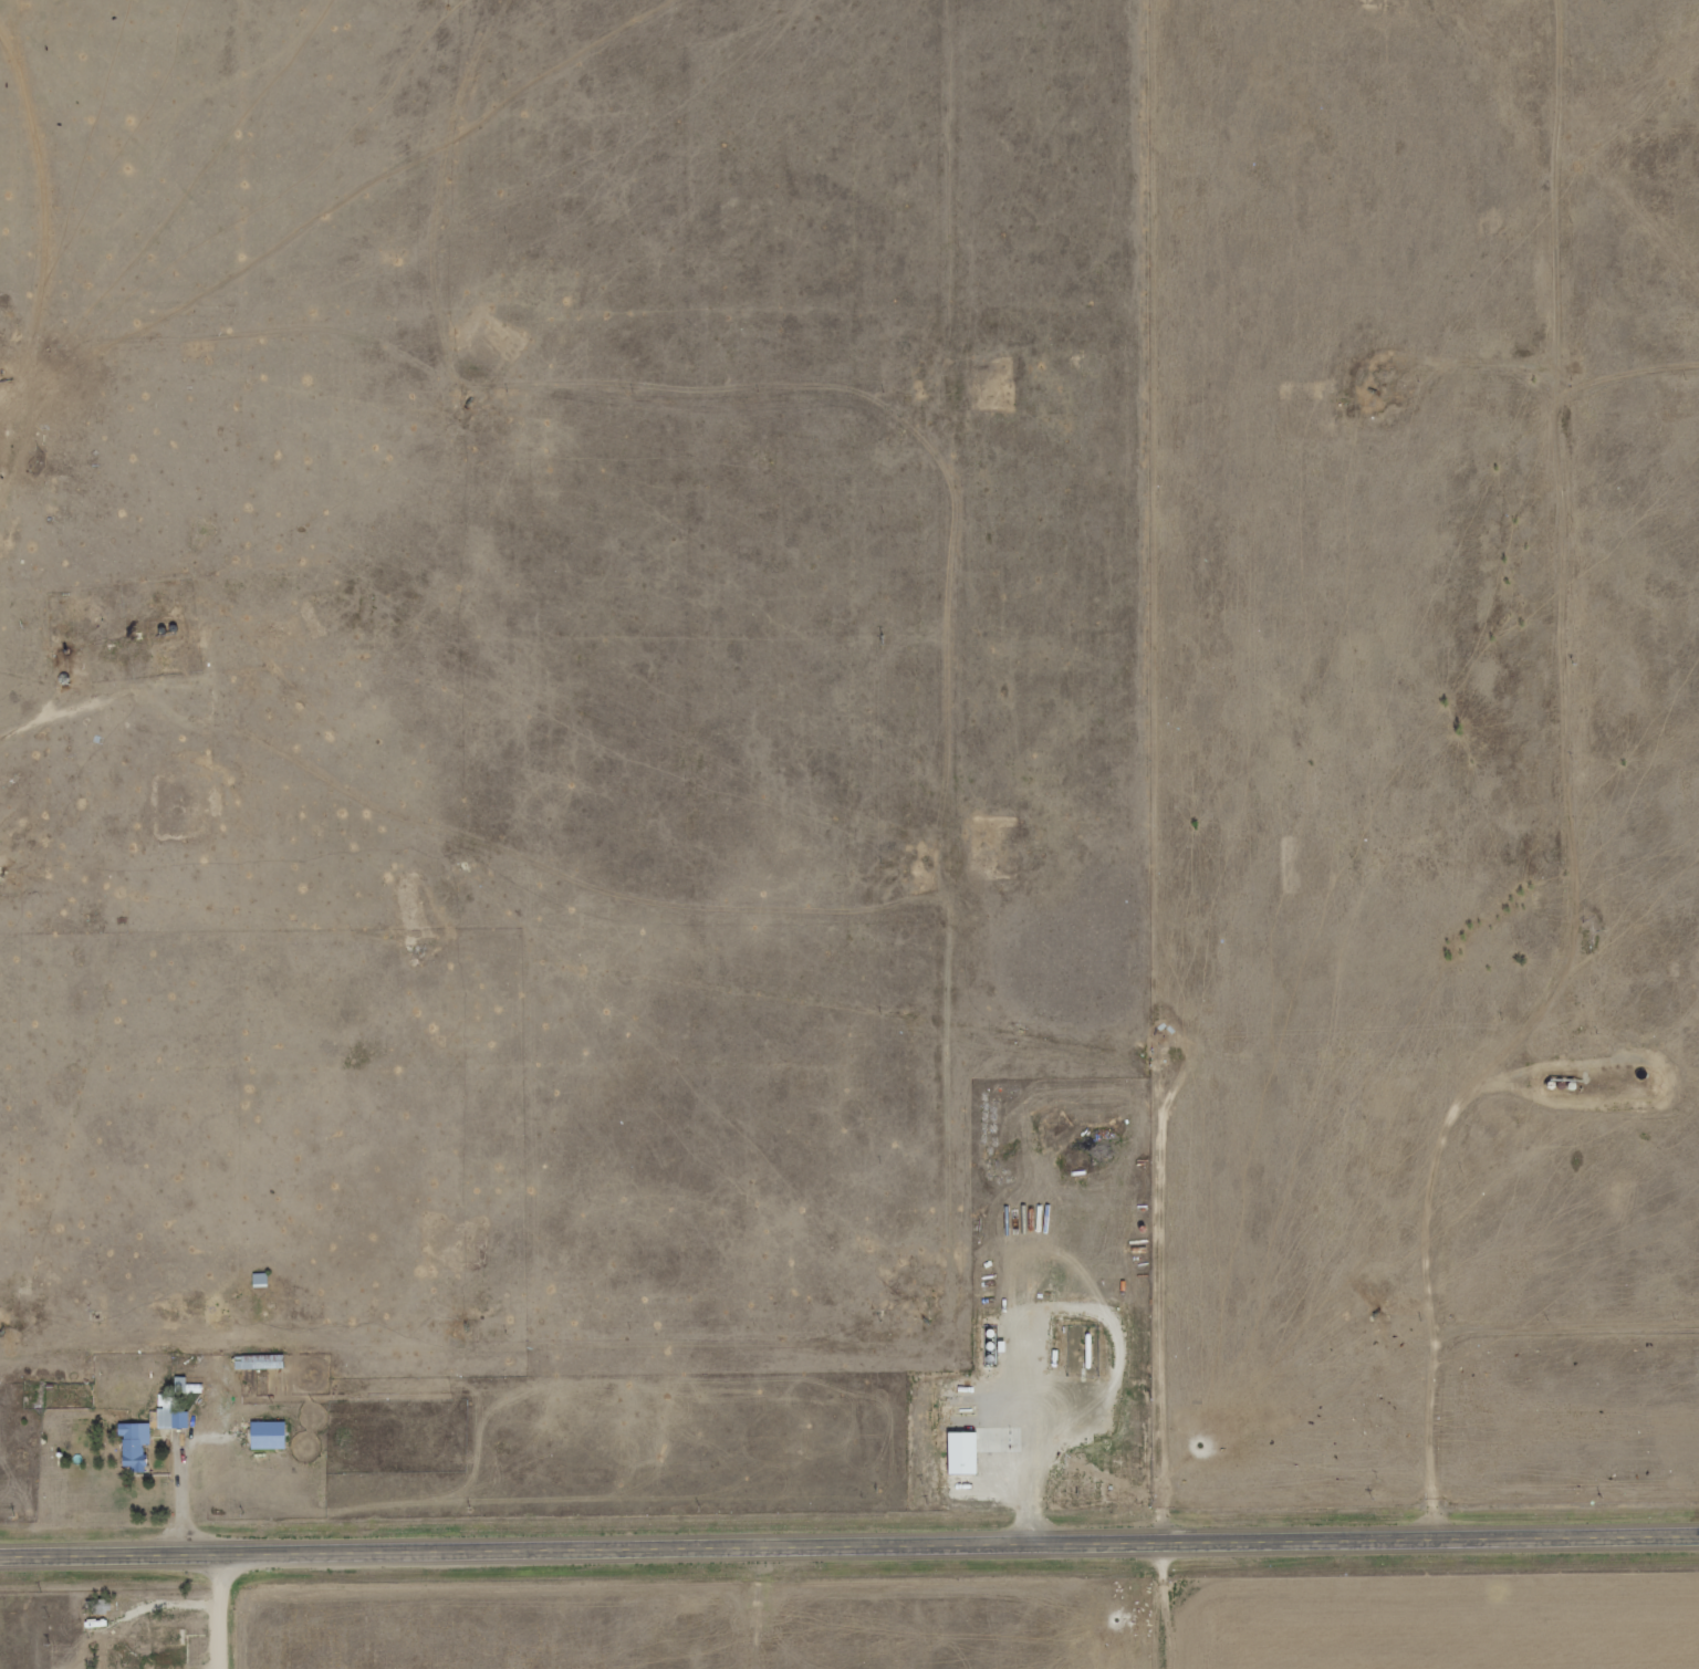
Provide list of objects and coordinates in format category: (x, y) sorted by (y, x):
building: (173, 1418)
building: (268, 1435)
building: (135, 1443)
building: (961, 1452)
road: (848, 1546)
road: (256, 1611)

